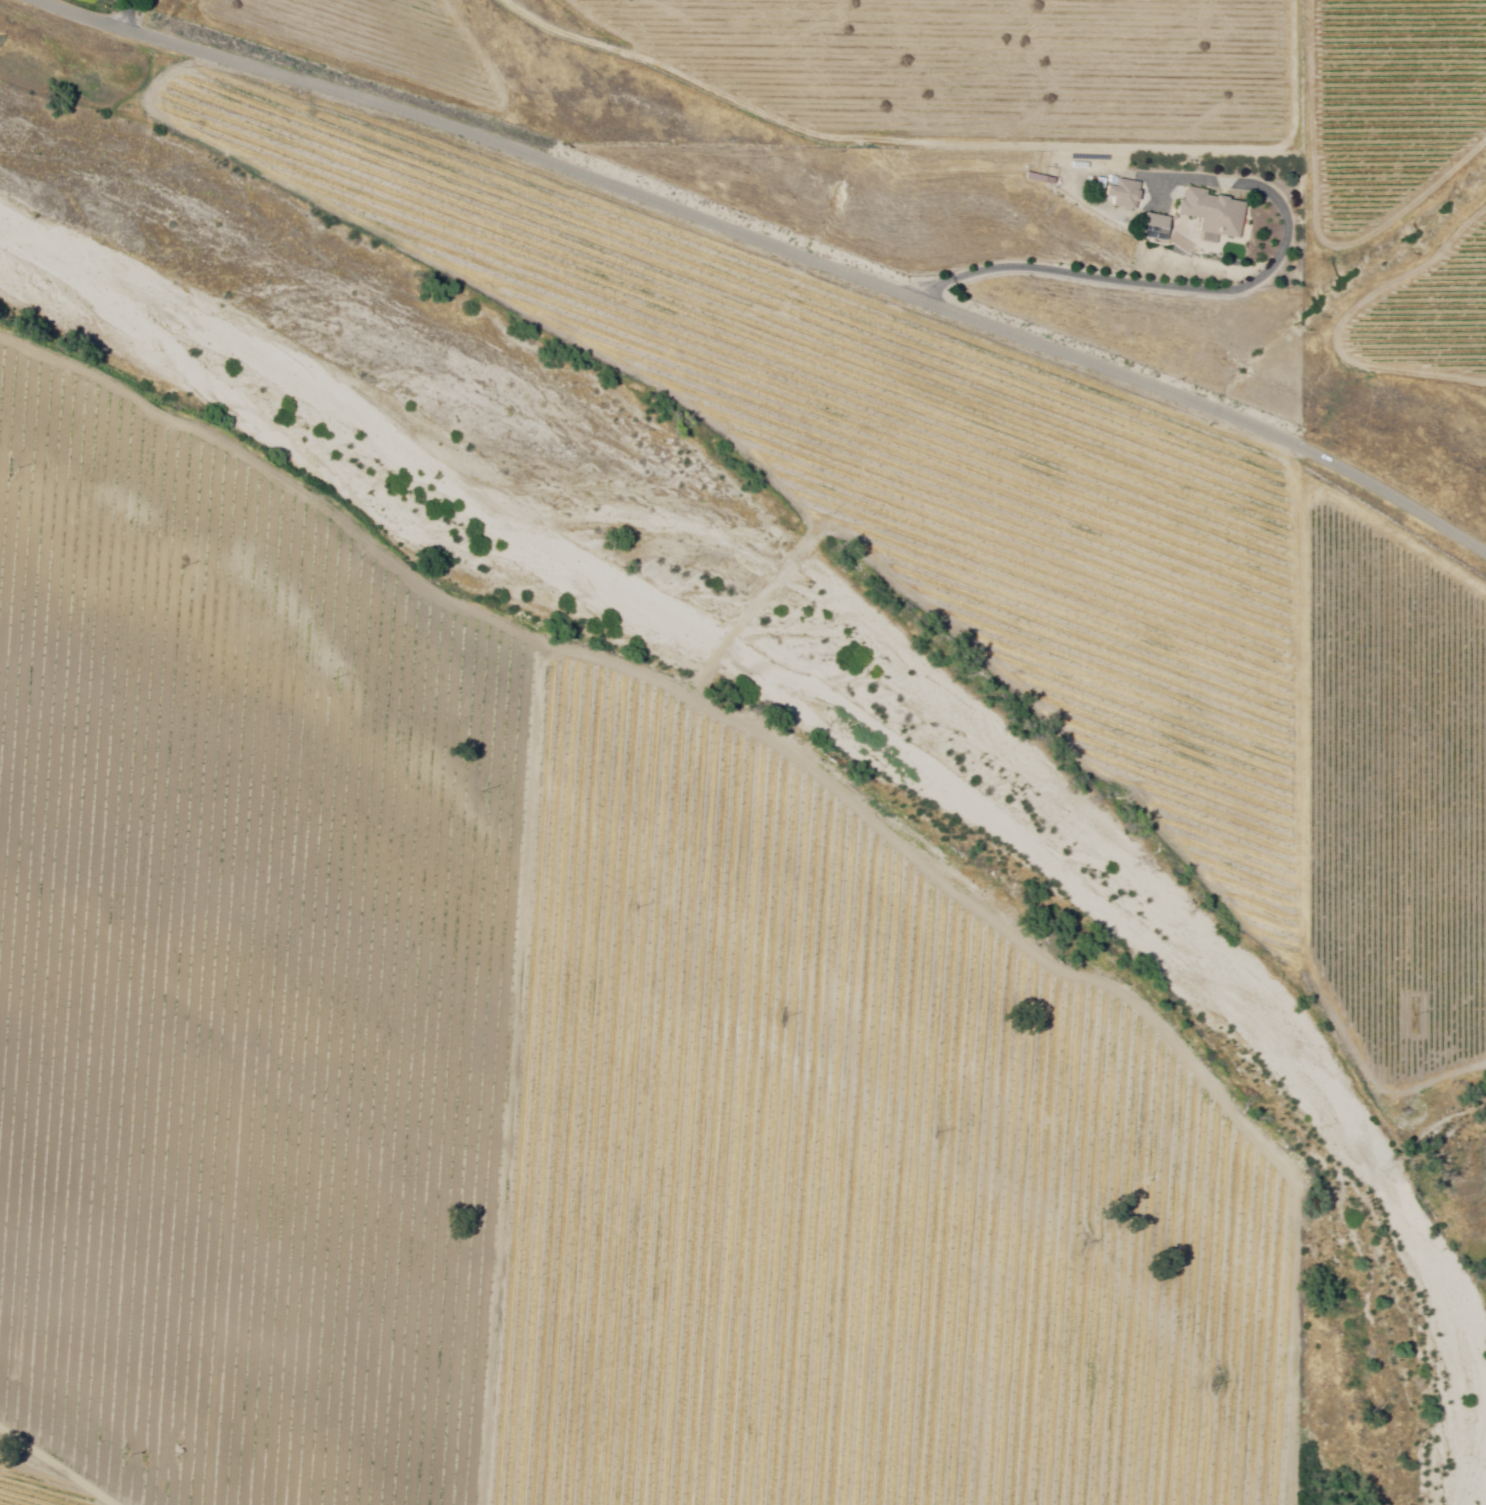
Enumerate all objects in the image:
road: (130, 14)
building: (1100, 186)
building: (1130, 194)
building: (1216, 212)
building: (1161, 227)
road: (777, 249)
road: (1138, 282)
crop: (909, 462)
river: (732, 643)
crop: (1394, 771)
crop: (544, 1068)
river: (1419, 1333)
crop: (35, 1484)

